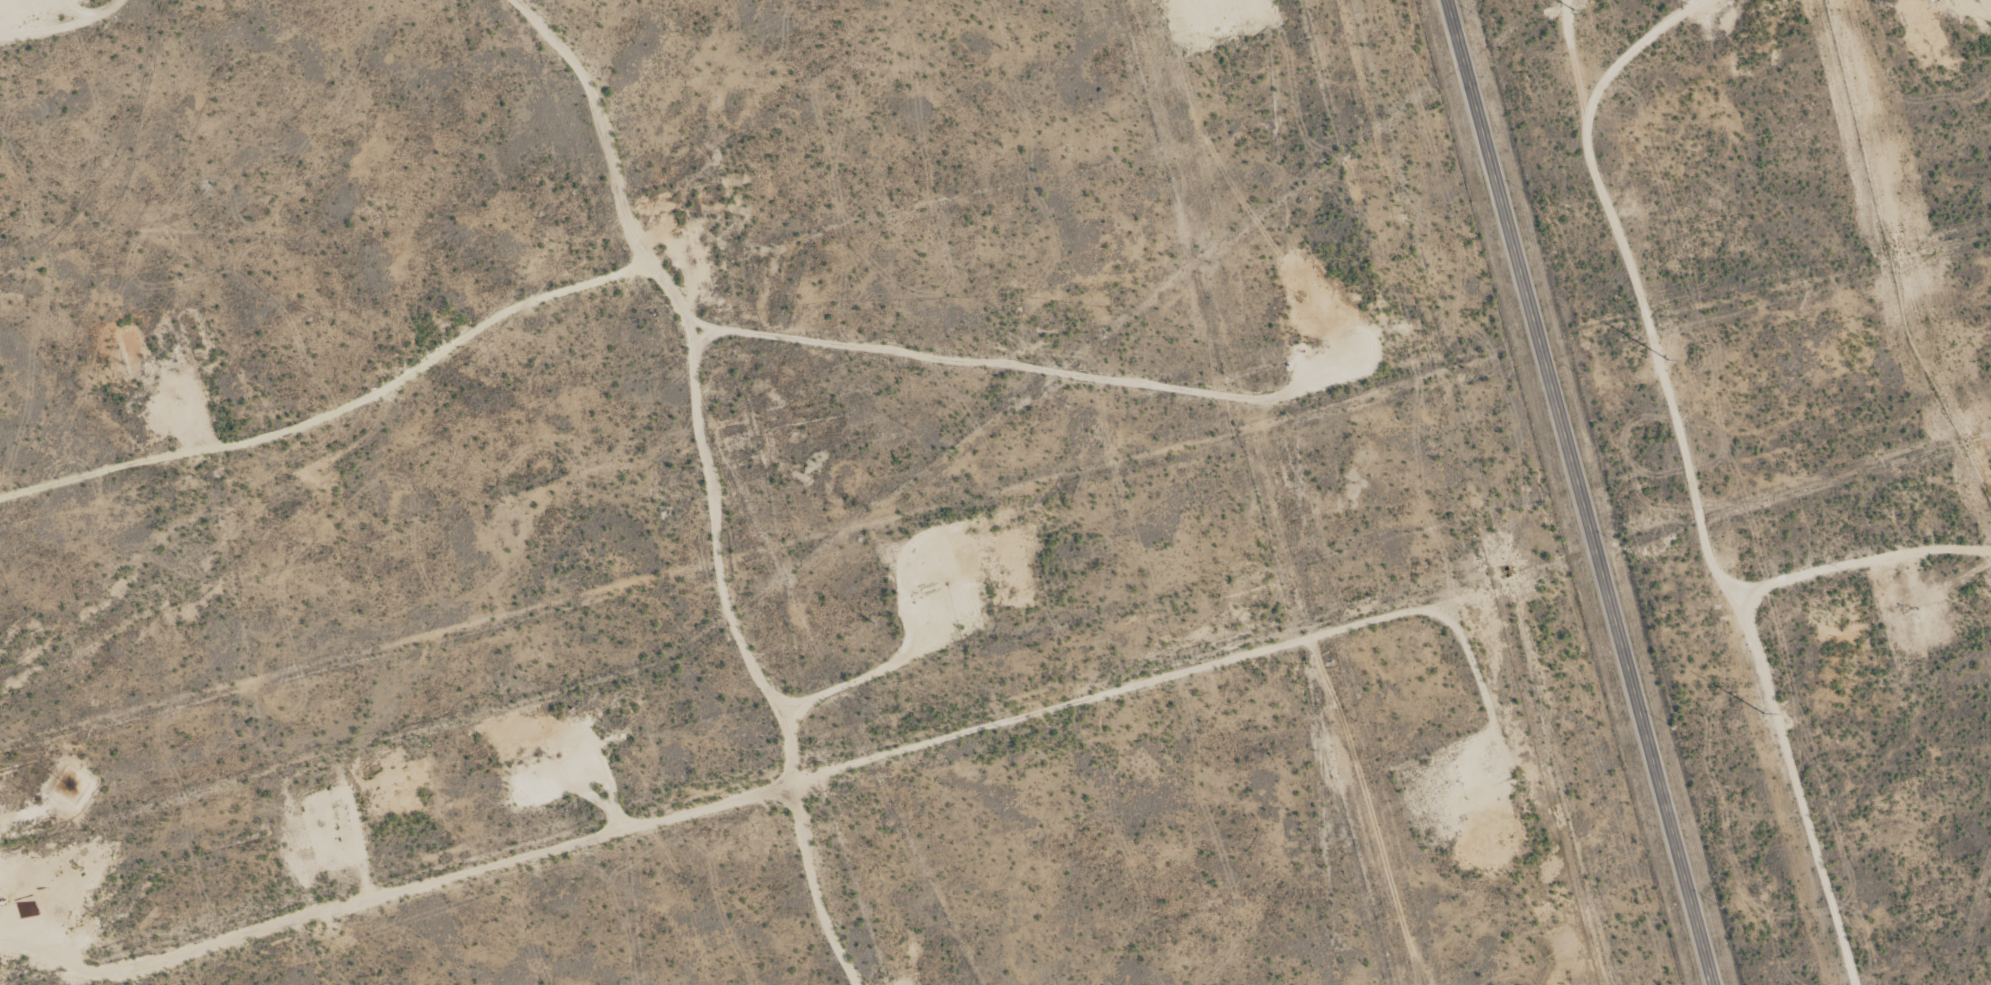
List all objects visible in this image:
power tower: (1625, 213)
road: (1581, 492)
power tower: (1721, 562)
power tower: (1789, 815)

